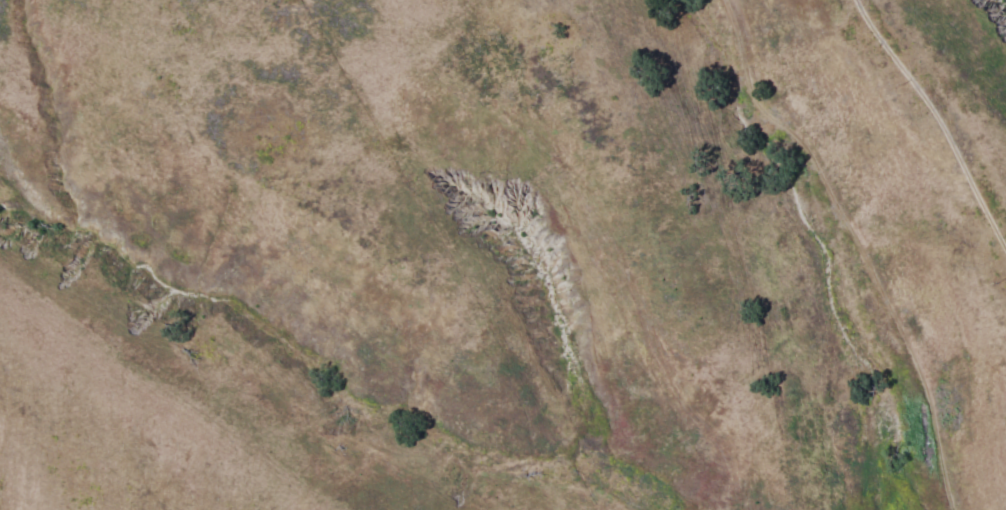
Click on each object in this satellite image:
crop: (961, 169)

